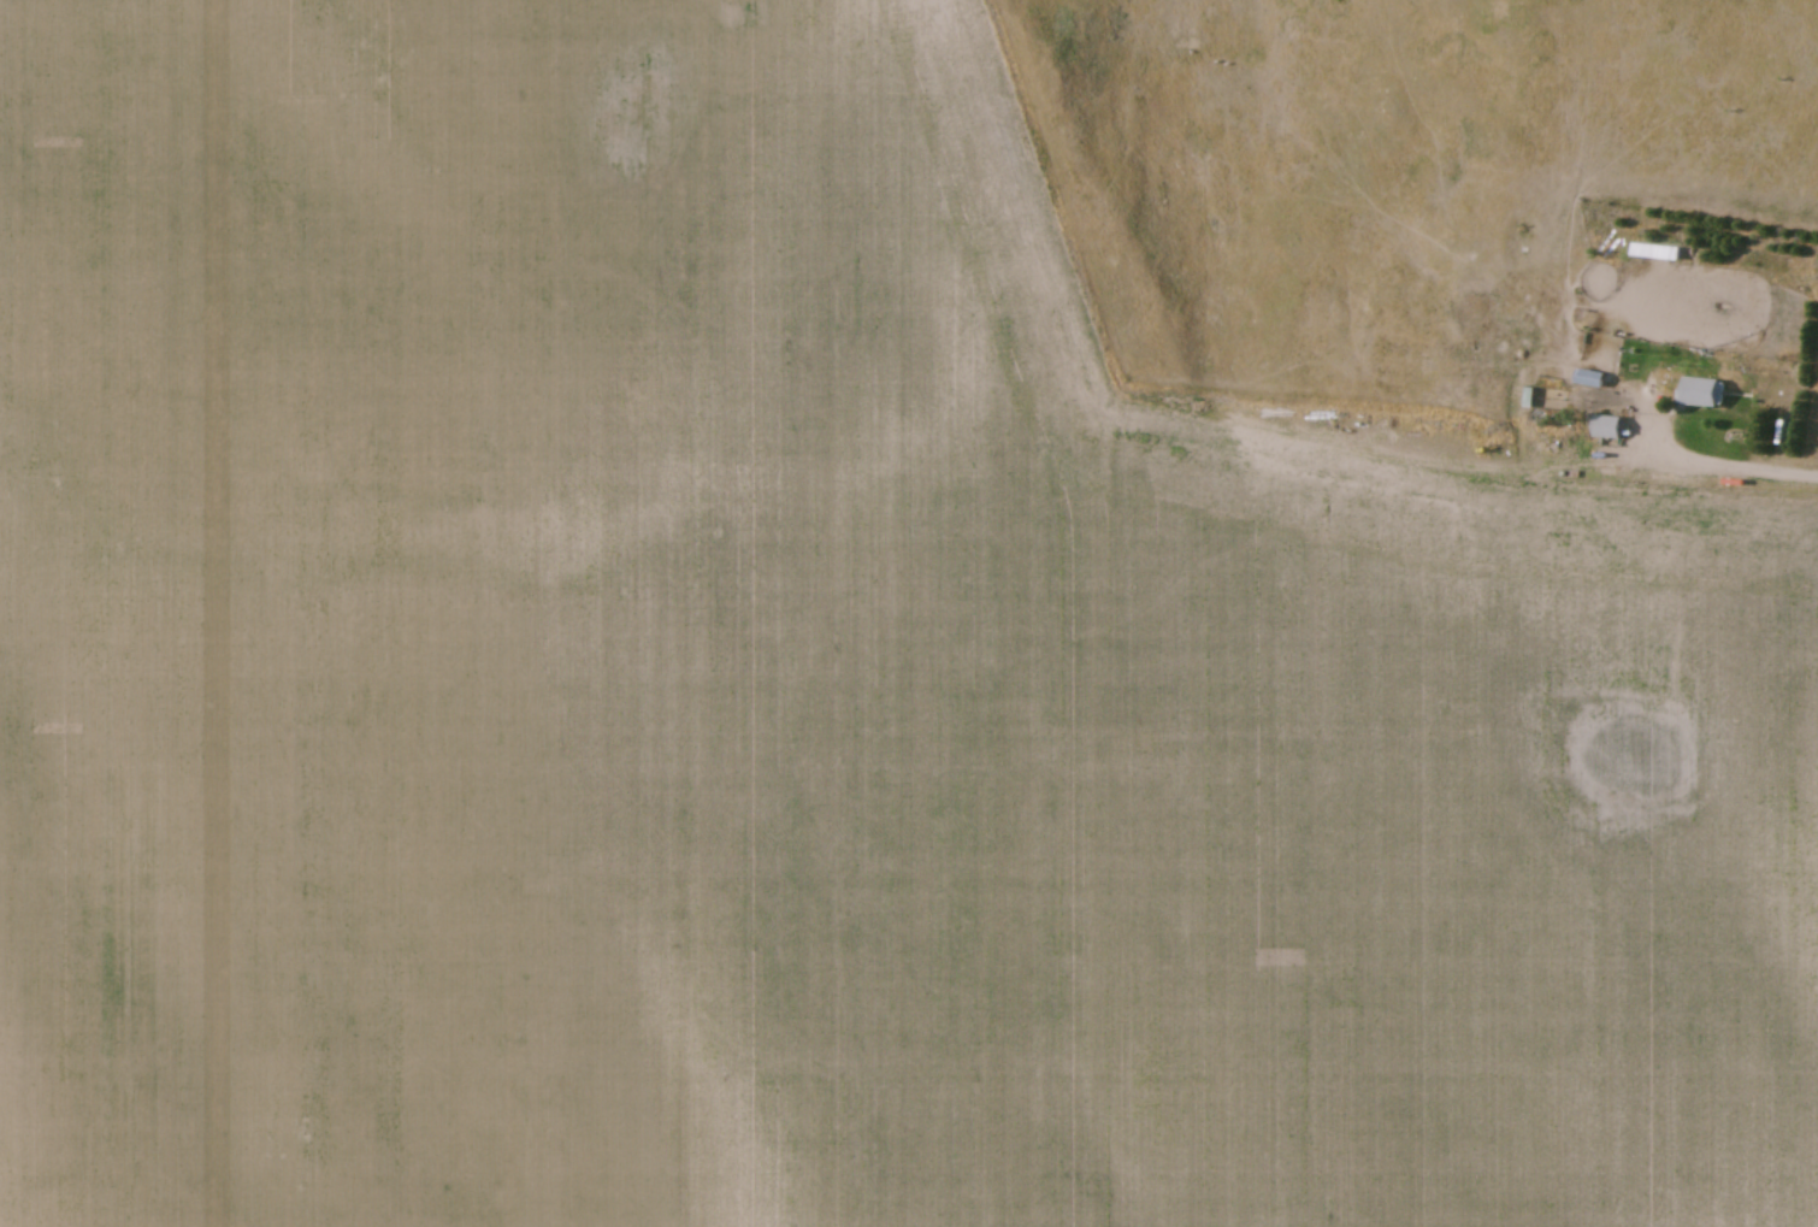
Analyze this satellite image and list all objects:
building: (1594, 378)
building: (1707, 393)
building: (1612, 427)

